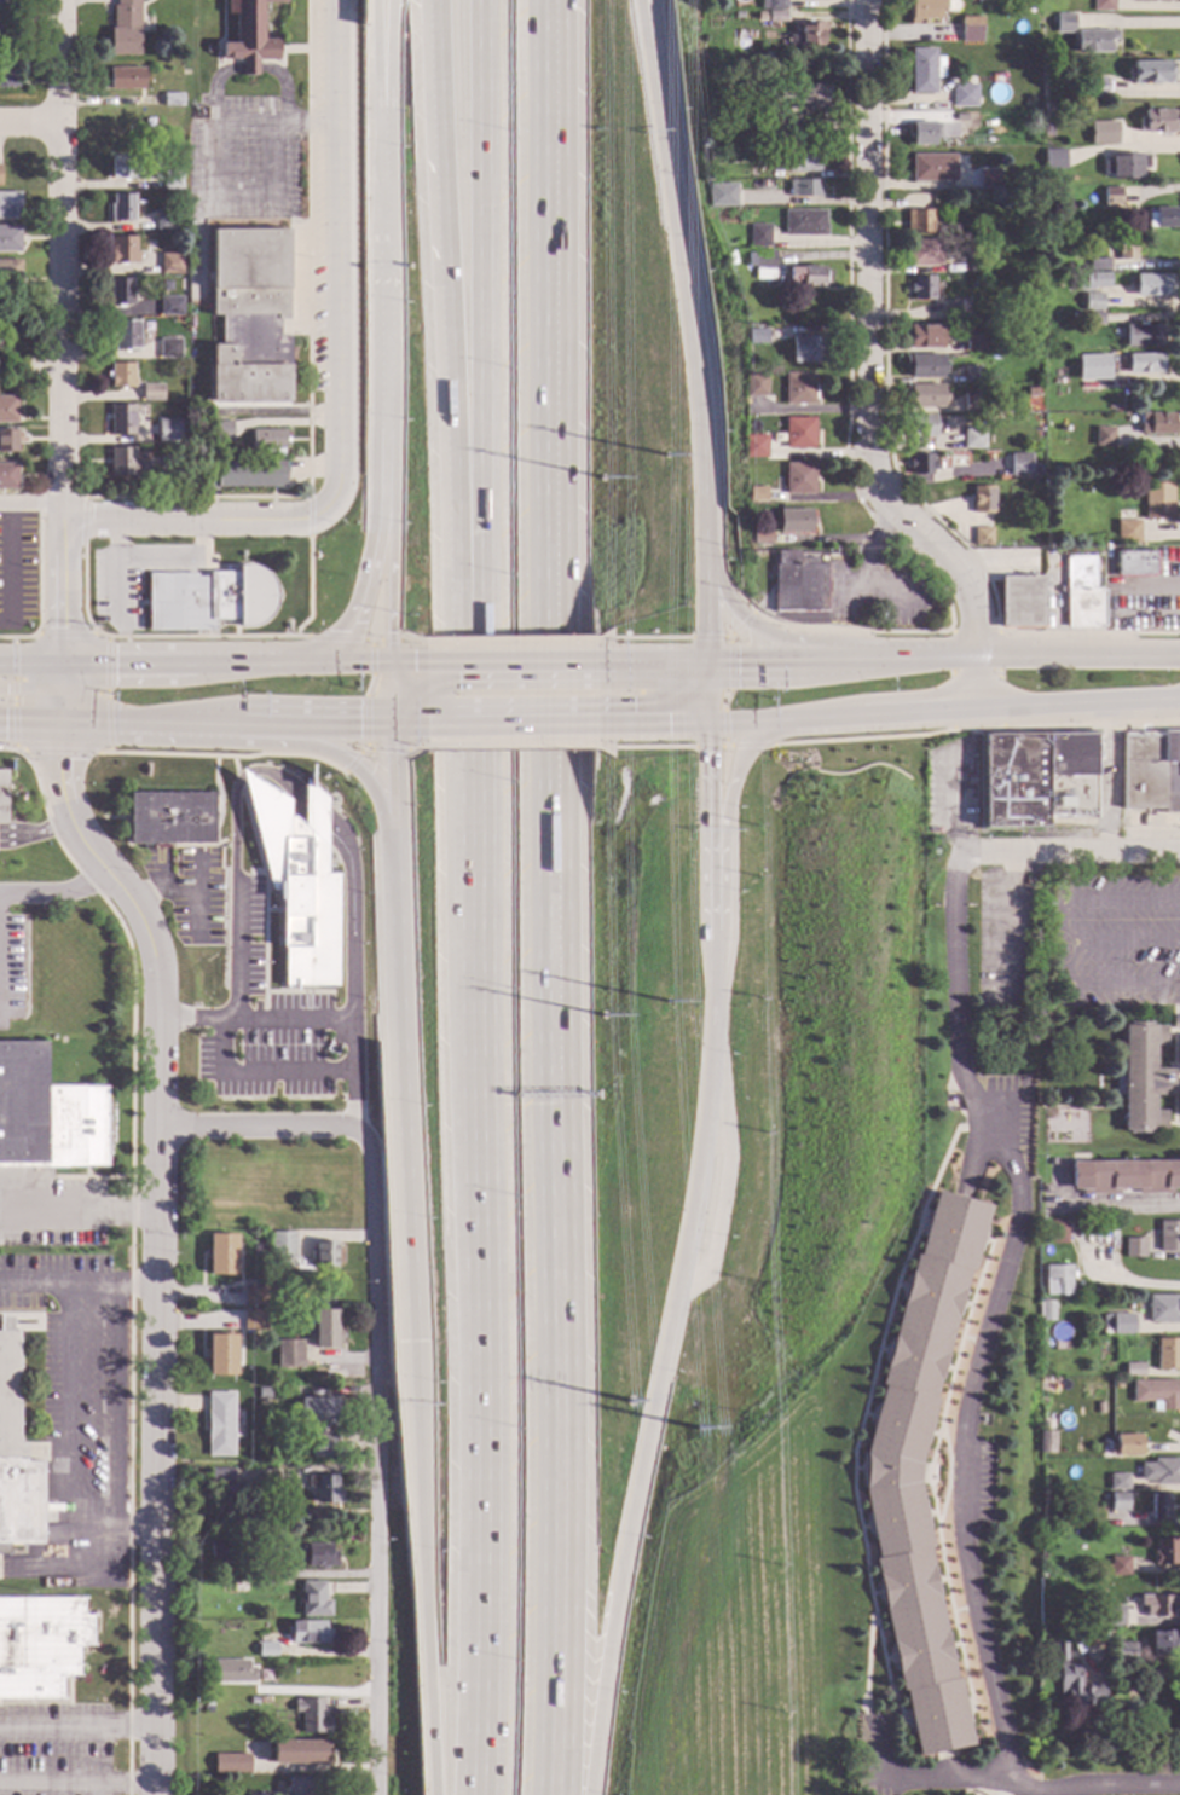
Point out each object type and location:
building: (808, 0)
building: (1150, 0)
building: (1014, 4)
building: (713, 5)
building: (771, 5)
building: (1101, 5)
building: (927, 10)
road: (643, 12)
road: (644, 12)
building: (737, 16)
building: (771, 16)
building: (5, 18)
building: (1063, 23)
building: (123, 28)
building: (970, 30)
building: (250, 34)
building: (808, 34)
building: (1093, 41)
road: (375, 58)
road: (388, 58)
building: (6, 70)
building: (924, 70)
building: (1150, 73)
building: (125, 79)
building: (1093, 87)
building: (804, 94)
building: (962, 95)
building: (172, 99)
building: (1046, 110)
building: (959, 117)
road: (277, 121)
road: (31, 122)
building: (1156, 122)
building: (987, 125)
building: (774, 127)
building: (924, 133)
building: (1105, 135)
building: (1053, 160)
building: (802, 161)
building: (984, 164)
building: (1124, 167)
building: (122, 168)
building: (931, 168)
road: (383, 173)
building: (694, 174)
traffic signals: (667, 176)
building: (988, 178)
building: (170, 180)
building: (803, 189)
building: (719, 195)
building: (1047, 195)
building: (1111, 196)
road: (239, 197)
building: (8, 205)
building: (121, 208)
building: (1162, 218)
building: (163, 221)
building: (918, 222)
building: (803, 224)
building: (970, 227)
building: (757, 236)
building: (8, 238)
building: (1124, 249)
building: (121, 250)
building: (922, 253)
road: (339, 255)
road: (63, 259)
building: (727, 259)
building: (972, 261)
building: (169, 264)
building: (759, 264)
building: (1098, 266)
building: (10, 273)
building: (805, 277)
road: (682, 282)
building: (1091, 282)
building: (1152, 285)
building: (920, 289)
building: (120, 291)
building: (1091, 302)
building: (170, 307)
road: (447, 307)
road: (482, 307)
building: (956, 311)
building: (249, 315)
building: (1043, 315)
building: (1091, 318)
road: (383, 319)
road: (308, 320)
building: (125, 335)
building: (754, 336)
building: (921, 337)
building: (1143, 337)
building: (973, 343)
road: (866, 346)
building: (168, 348)
building: (805, 349)
building: (1143, 363)
building: (924, 366)
building: (7, 369)
building: (1098, 371)
building: (121, 375)
building: (970, 375)
building: (753, 384)
building: (797, 388)
building: (151, 392)
building: (924, 395)
building: (971, 403)
building: (7, 410)
road: (808, 410)
building: (121, 419)
building: (1156, 423)
building: (918, 425)
building: (167, 430)
building: (222, 430)
building: (797, 433)
building: (1101, 436)
building: (972, 438)
building: (7, 441)
building: (267, 441)
building: (754, 446)
power tower: (665, 454)
building: (126, 463)
building: (921, 464)
building: (1019, 465)
building: (164, 467)
building: (1035, 470)
building: (239, 475)
building: (7, 476)
power tower: (602, 477)
building: (798, 479)
building: (756, 494)
road: (30, 499)
building: (982, 500)
building: (1157, 502)
road: (196, 520)
building: (793, 521)
building: (1126, 532)
road: (389, 533)
building: (981, 537)
building: (762, 538)
road: (372, 539)
building: (1037, 539)
road: (6, 560)
building: (1133, 563)
road: (866, 568)
building: (797, 584)
road: (63, 591)
building: (1081, 595)
building: (208, 600)
road: (706, 602)
building: (1018, 602)
road: (748, 623)
traffic signals: (64, 629)
road: (64, 633)
road: (22, 637)
road: (196, 637)
road: (332, 638)
road: (650, 639)
road: (510, 641)
road: (403, 642)
road: (904, 655)
road: (1078, 656)
road: (357, 661)
traffic signals: (389, 661)
road: (399, 661)
road: (511, 661)
road: (770, 661)
road: (261, 662)
road: (660, 662)
road: (131, 664)
traffic signals: (707, 664)
road: (31, 665)
traffic signals: (114, 665)
road: (976, 682)
road: (36, 689)
road: (13, 693)
road: (389, 693)
road: (706, 693)
road: (63, 694)
road: (364, 701)
road: (1077, 703)
road: (916, 712)
traffic signals: (4, 722)
road: (30, 722)
road: (659, 723)
traffic signals: (706, 723)
road: (782, 723)
road: (150, 724)
road: (313, 724)
road: (511, 724)
traffic signals: (391, 725)
road: (400, 725)
road: (106, 737)
road: (18, 751)
road: (226, 755)
road: (335, 758)
traffic signals: (63, 760)
road: (352, 760)
building: (1149, 771)
road: (243, 776)
road: (277, 778)
building: (1034, 780)
road: (393, 784)
building: (2, 795)
road: (313, 810)
building: (169, 818)
road: (724, 824)
road: (232, 829)
road: (707, 832)
road: (36, 834)
road: (1068, 853)
road: (261, 872)
building: (299, 881)
road: (56, 893)
road: (555, 897)
road: (1097, 901)
road: (349, 915)
parking lot: (12, 954)
road: (1066, 967)
power tower: (667, 1002)
power tower: (605, 1017)
road: (317, 1018)
road: (192, 1020)
road: (219, 1071)
building: (1141, 1077)
road: (401, 1093)
building: (1048, 1114)
building: (47, 1116)
road: (264, 1128)
building: (1124, 1177)
building: (1042, 1179)
road: (479, 1204)
road: (1117, 1204)
road: (79, 1209)
building: (1054, 1233)
building: (1141, 1233)
building: (1168, 1237)
building: (280, 1245)
road: (157, 1246)
building: (1133, 1249)
building: (220, 1253)
building: (325, 1255)
building: (1057, 1280)
road: (33, 1286)
building: (272, 1291)
building: (254, 1293)
building: (1163, 1309)
building: (1045, 1310)
building: (253, 1320)
building: (1117, 1325)
building: (325, 1330)
traffic signals: (412, 1342)
building: (220, 1354)
building: (288, 1354)
building: (1167, 1354)
road: (658, 1370)
building: (1133, 1370)
building: (1116, 1385)
building: (264, 1392)
road: (970, 1394)
building: (1156, 1394)
road: (68, 1399)
power tower: (630, 1402)
road: (117, 1407)
building: (1098, 1408)
building: (318, 1424)
building: (219, 1425)
power tower: (698, 1429)
building: (238, 1436)
building: (1045, 1443)
building: (1123, 1446)
building: (15, 1461)
road: (374, 1465)
building: (1159, 1472)
building: (889, 1473)
building: (218, 1477)
building: (1116, 1482)
building: (323, 1489)
building: (227, 1492)
building: (1115, 1502)
building: (1158, 1506)
building: (222, 1552)
building: (1164, 1552)
building: (318, 1556)
building: (1115, 1567)
road: (421, 1568)
building: (238, 1587)
building: (312, 1599)
building: (1158, 1605)
building: (1110, 1616)
building: (307, 1633)
building: (1163, 1643)
building: (40, 1645)
building: (265, 1650)
building: (1123, 1654)
building: (231, 1670)
building: (1074, 1684)
building: (310, 1715)
building: (264, 1726)
road: (77, 1729)
building: (231, 1750)
building: (297, 1753)
building: (230, 1764)
road: (943, 1780)
road: (77, 1785)
building: (303, 1785)
building: (264, 1794)

